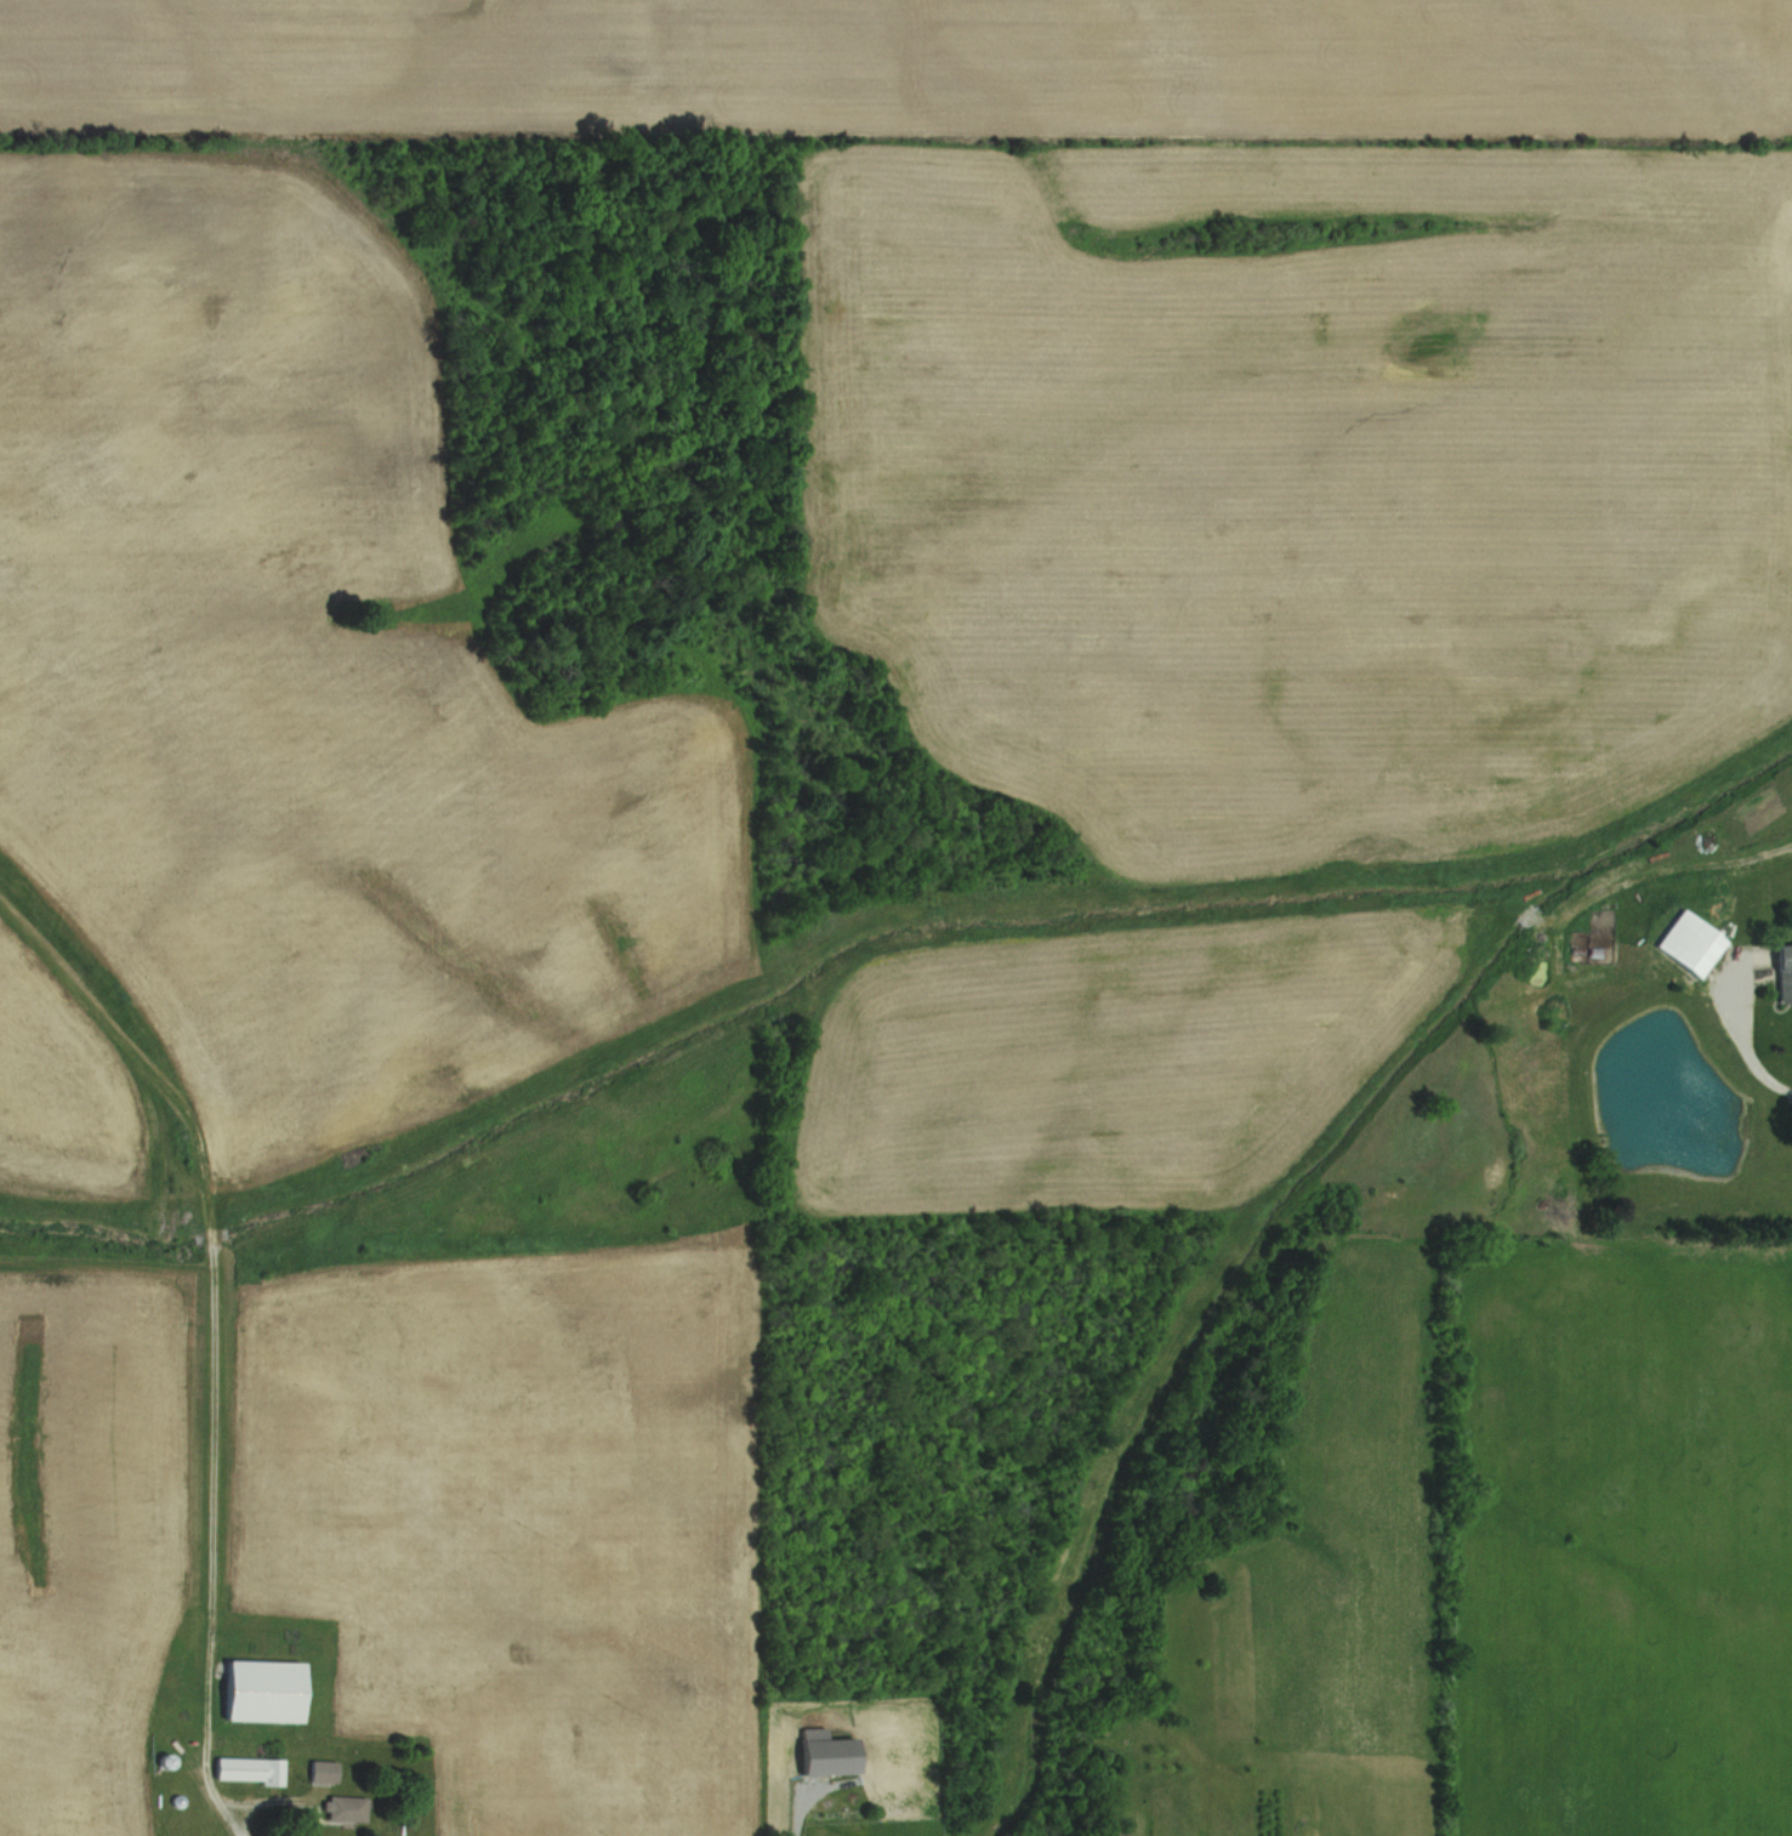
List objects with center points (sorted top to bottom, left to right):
building: (1509, 780)
building: (1780, 972)
road: (1746, 1046)
road: (210, 1544)
building: (255, 1692)
building: (817, 1752)
building: (243, 1769)
building: (318, 1770)
building: (339, 1808)
road: (796, 1817)

